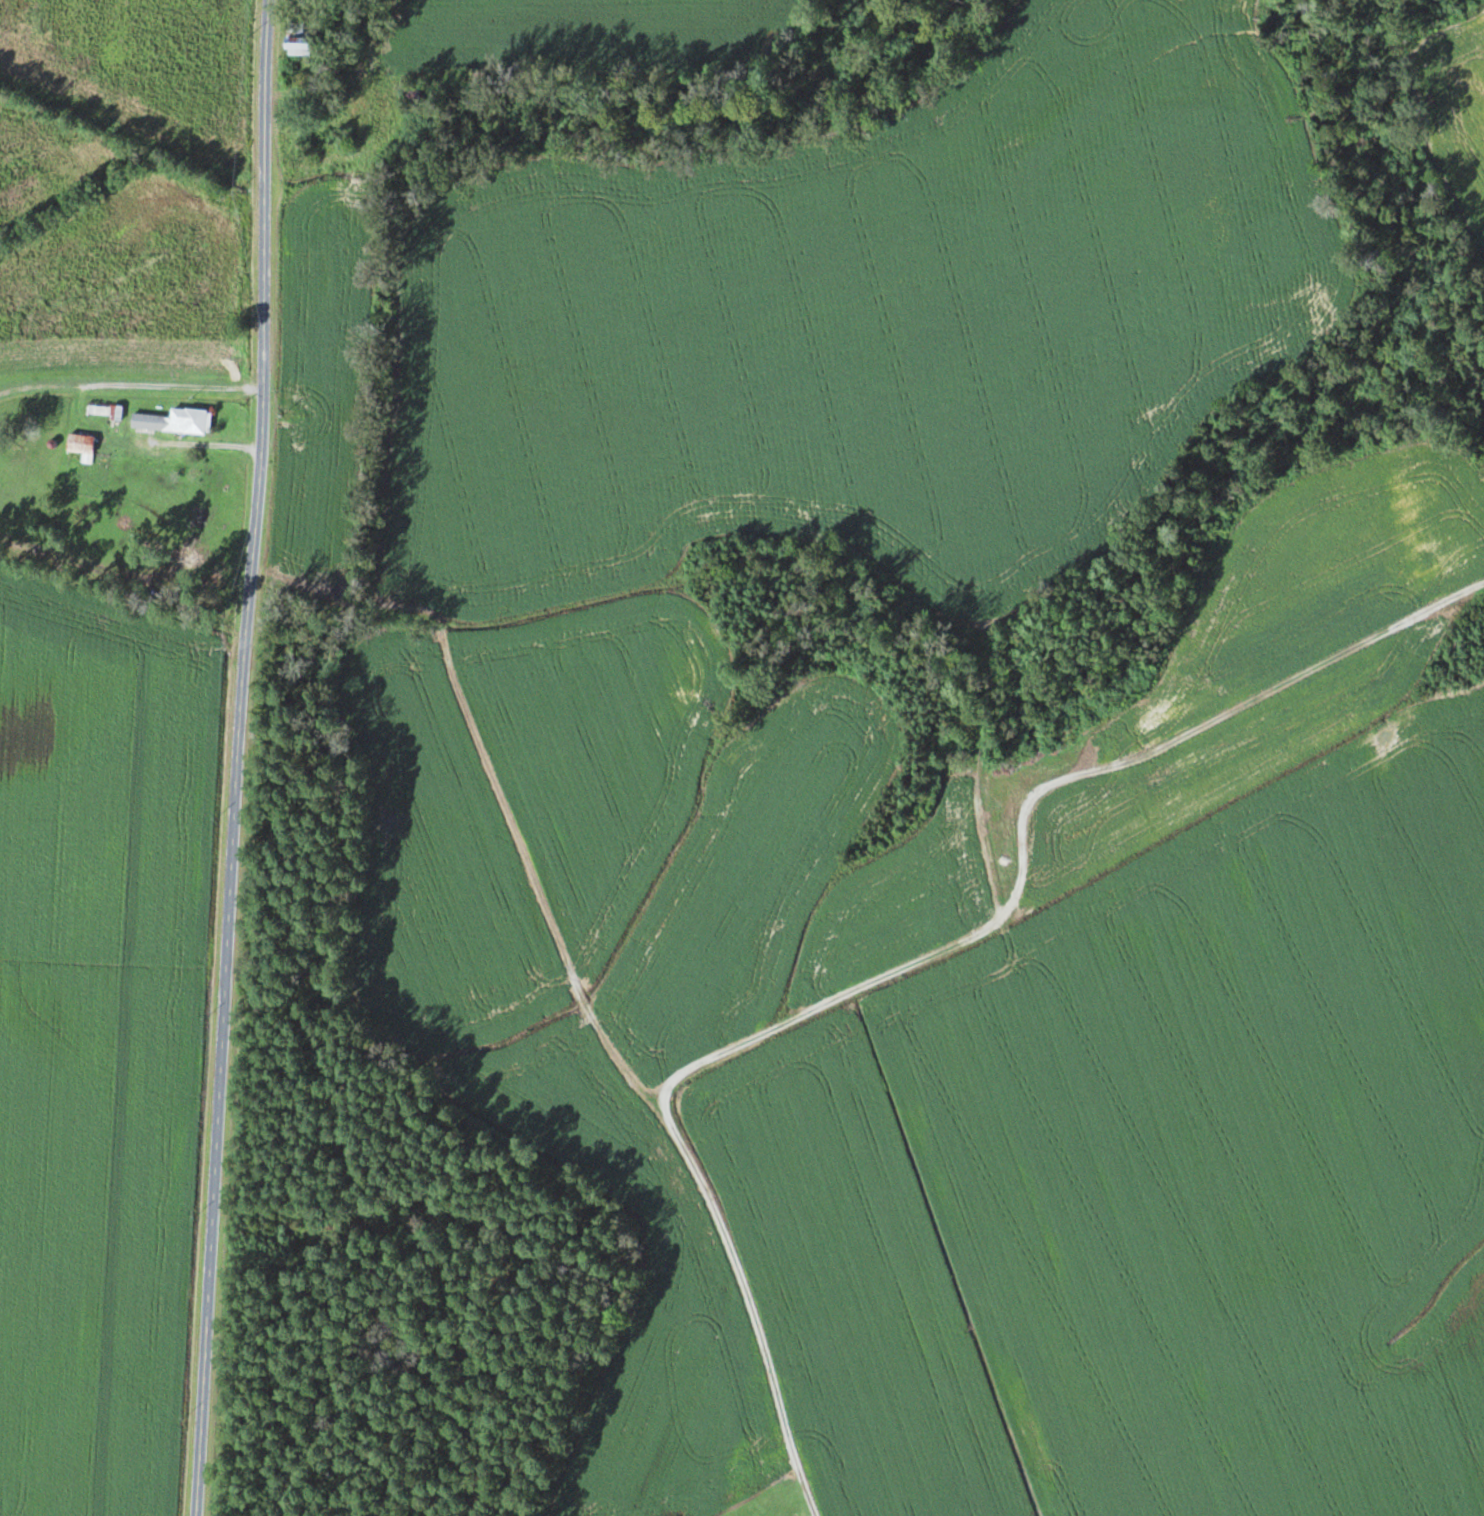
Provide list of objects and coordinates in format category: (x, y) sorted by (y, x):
building: (295, 37)
building: (174, 421)
building: (79, 444)
road: (236, 758)

